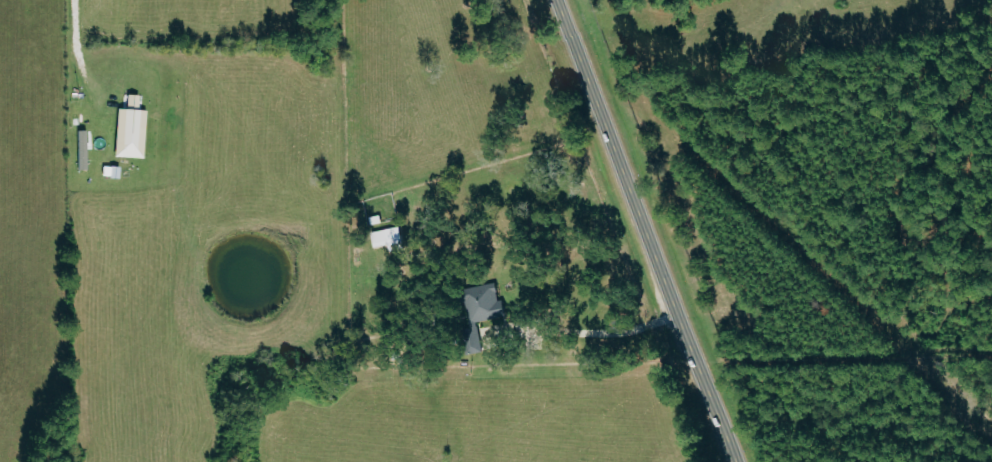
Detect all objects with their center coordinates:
road: (76, 23)
building: (131, 134)
building: (82, 150)
road: (643, 231)
building: (388, 238)
building: (480, 312)
road: (594, 332)

